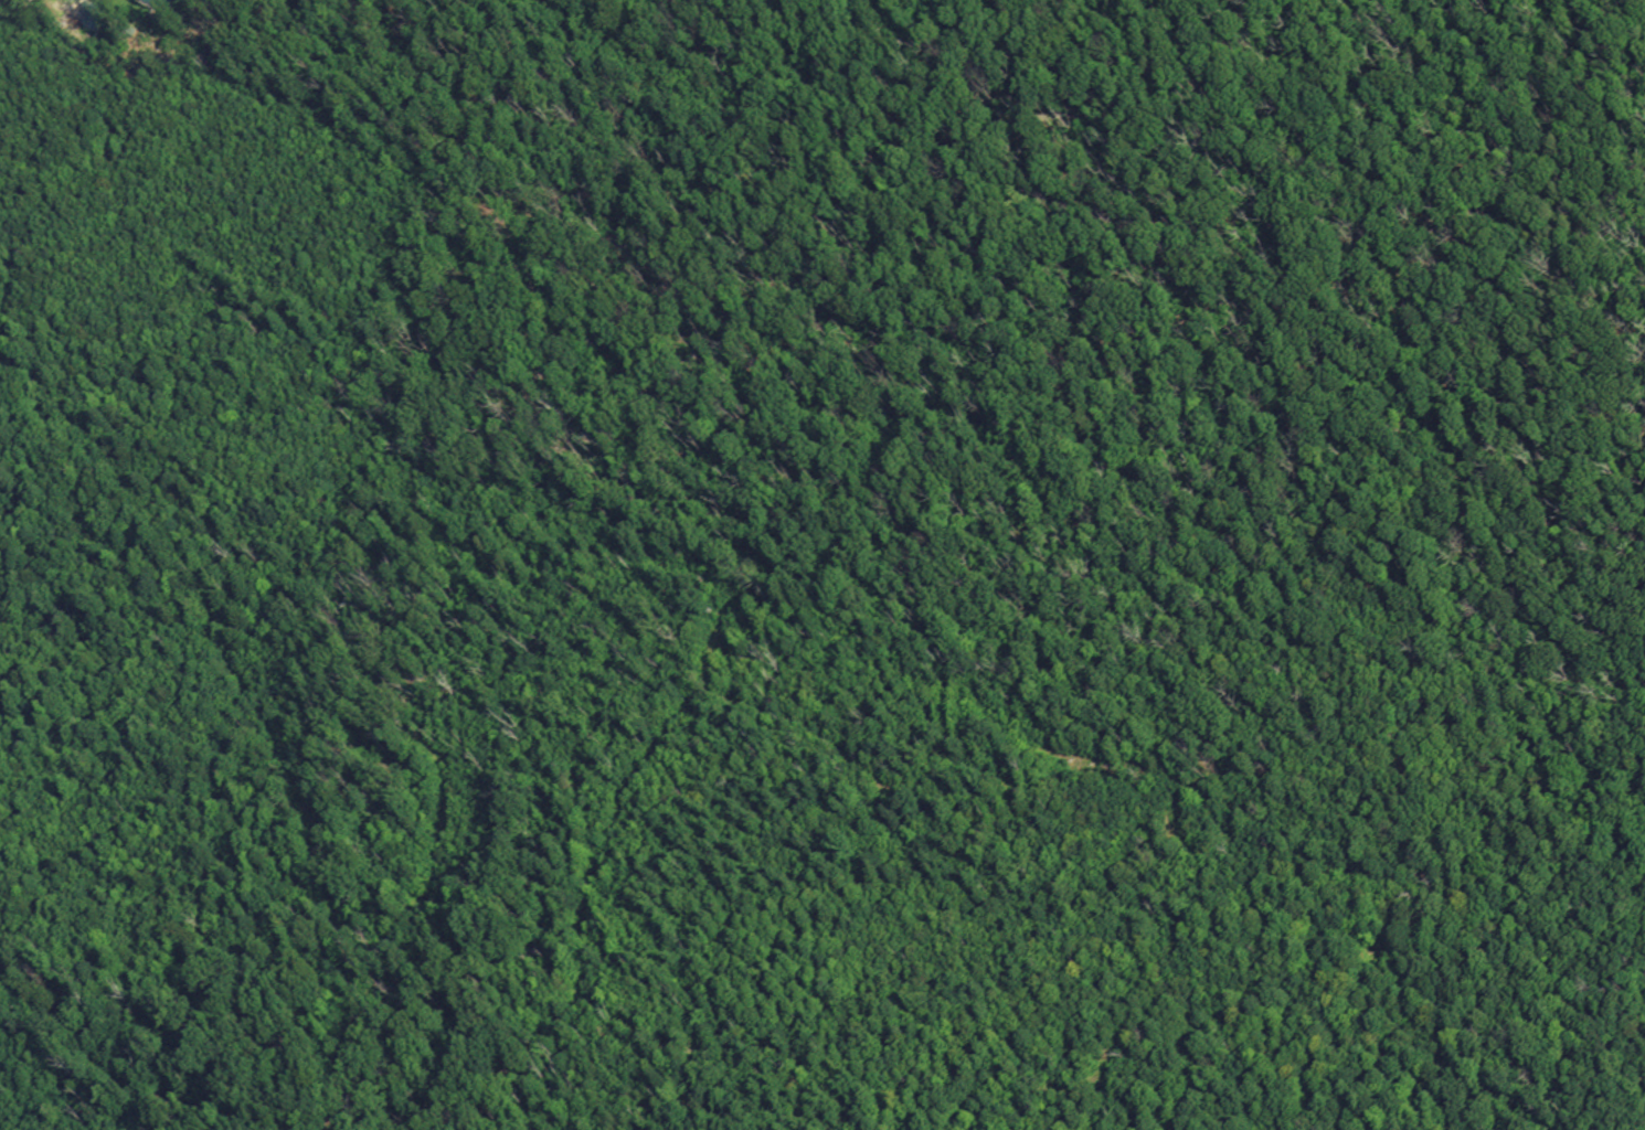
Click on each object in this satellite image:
building: (158, 3)
building: (91, 13)
road: (1246, 559)

